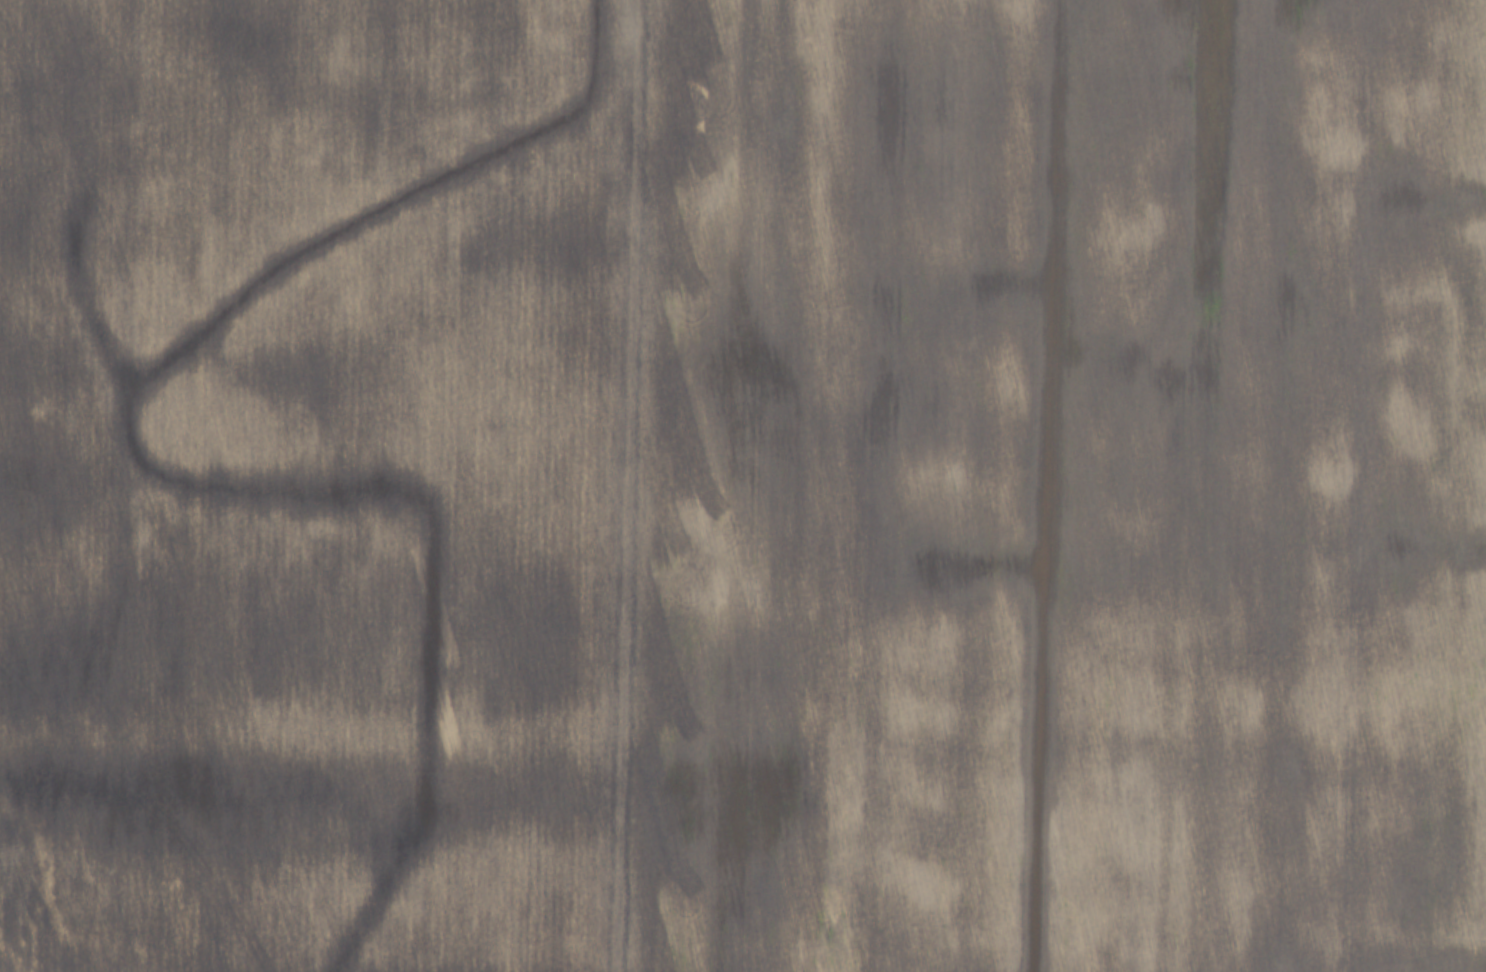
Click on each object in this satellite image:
crop: (315, 482)
crop: (1058, 488)

